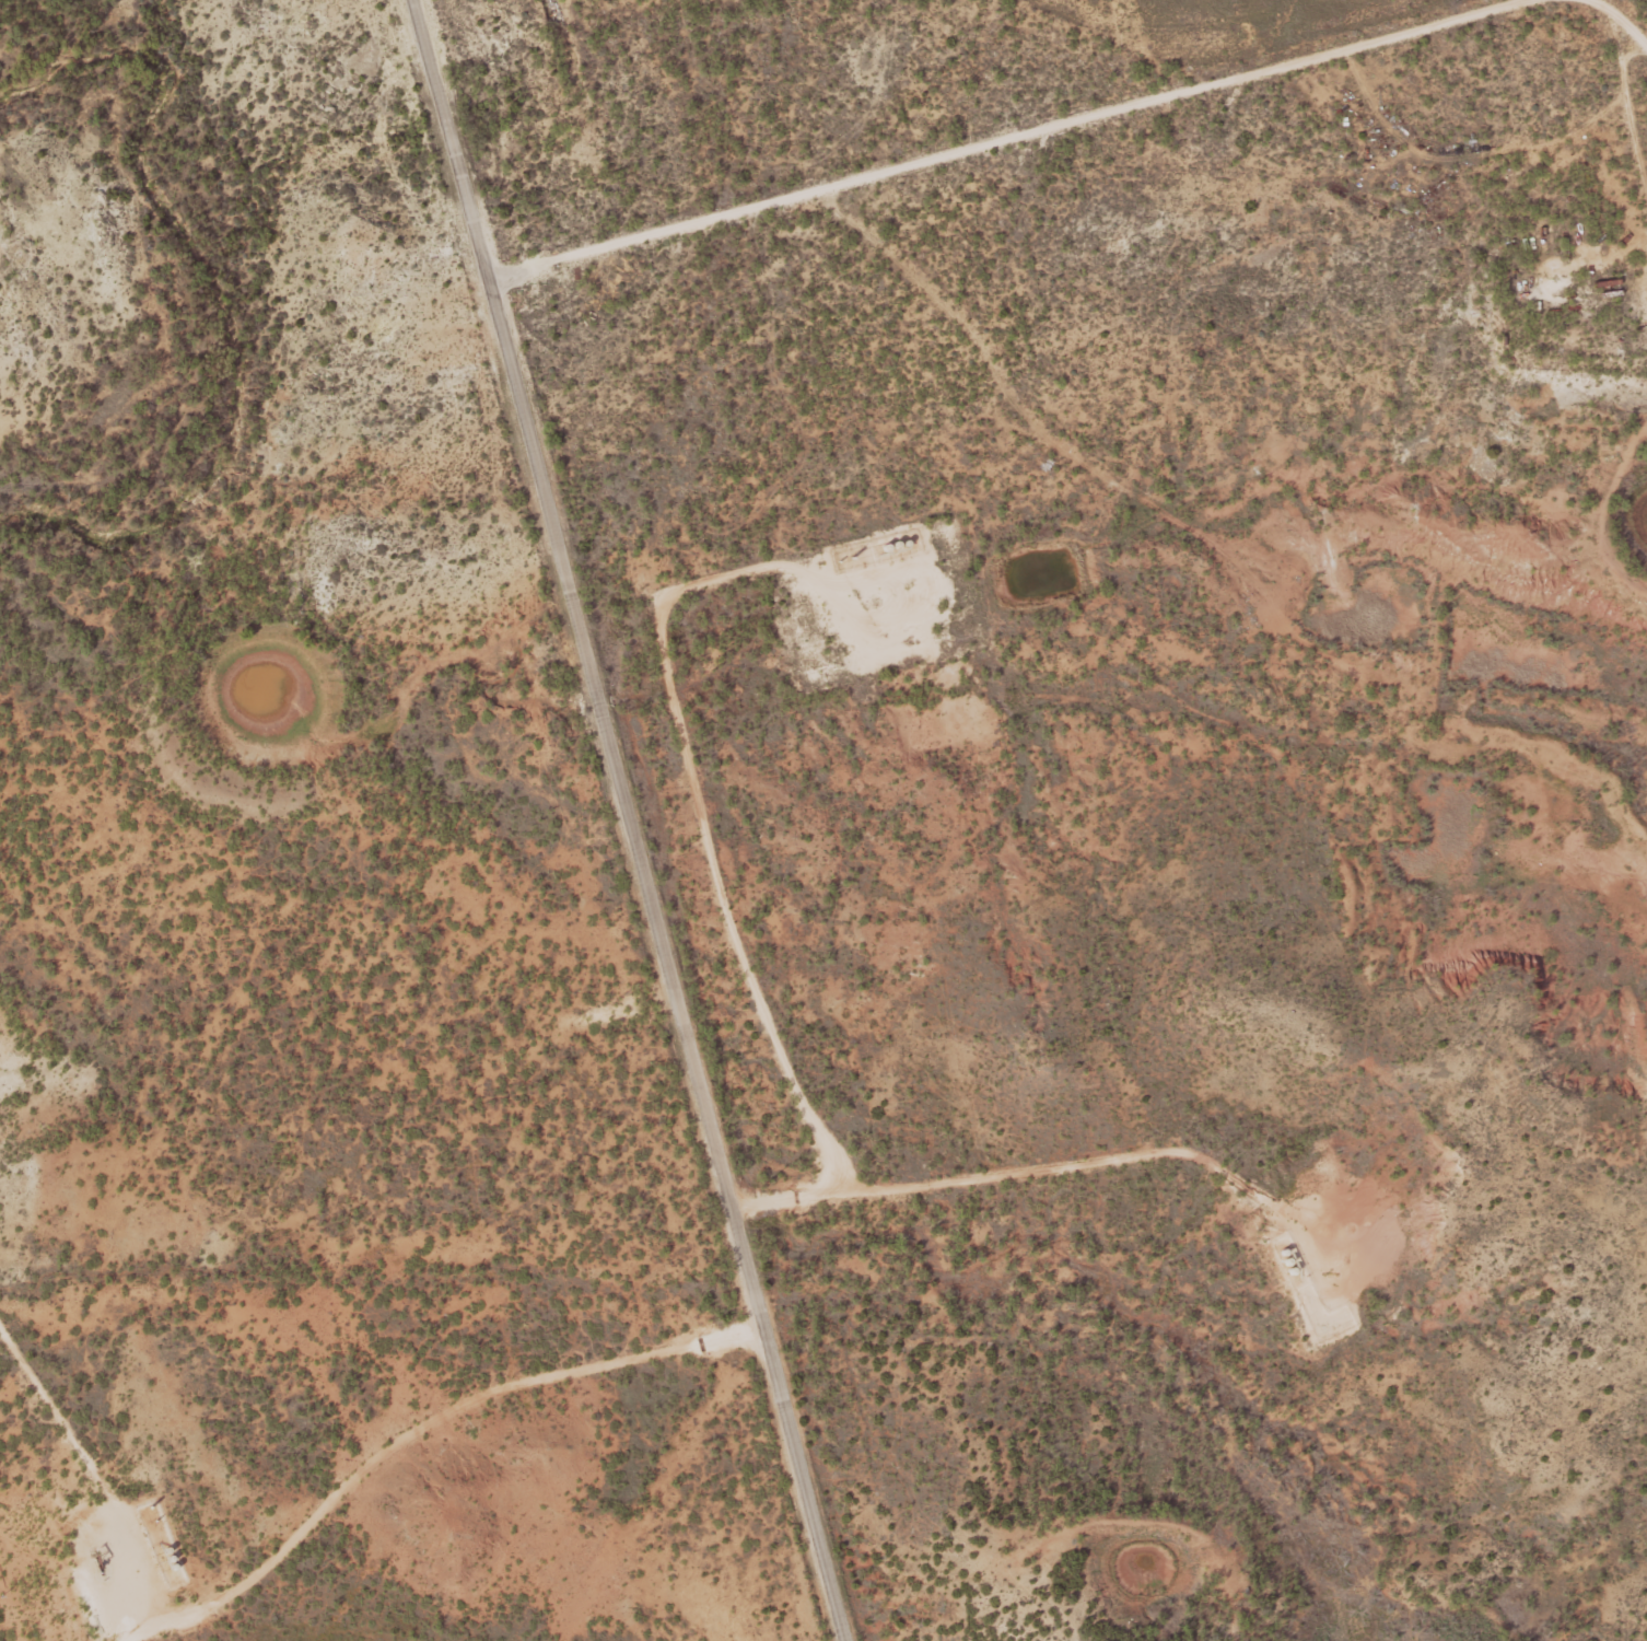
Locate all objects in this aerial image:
road: (1621, 20)
road: (1005, 139)
road: (451, 140)
road: (1142, 792)
road: (664, 959)

